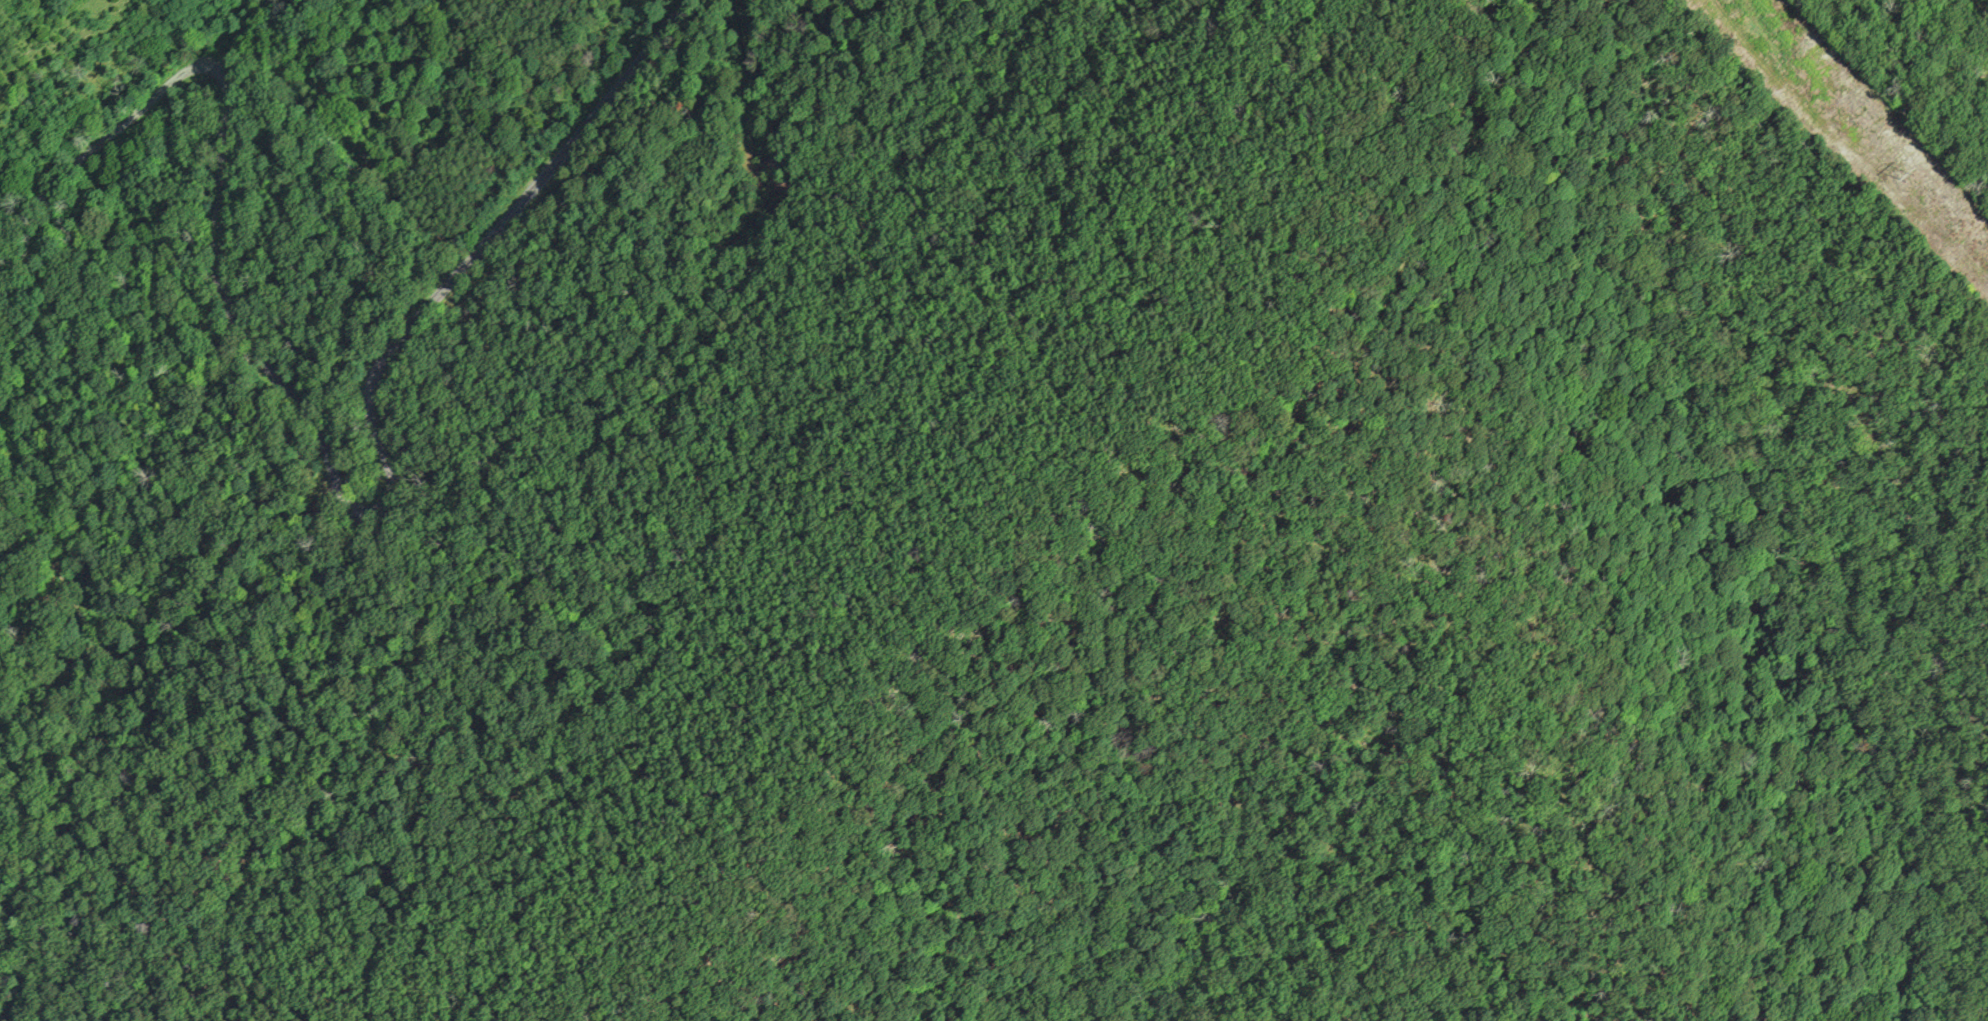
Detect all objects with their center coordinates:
power tower: (1911, 180)
road: (337, 463)

